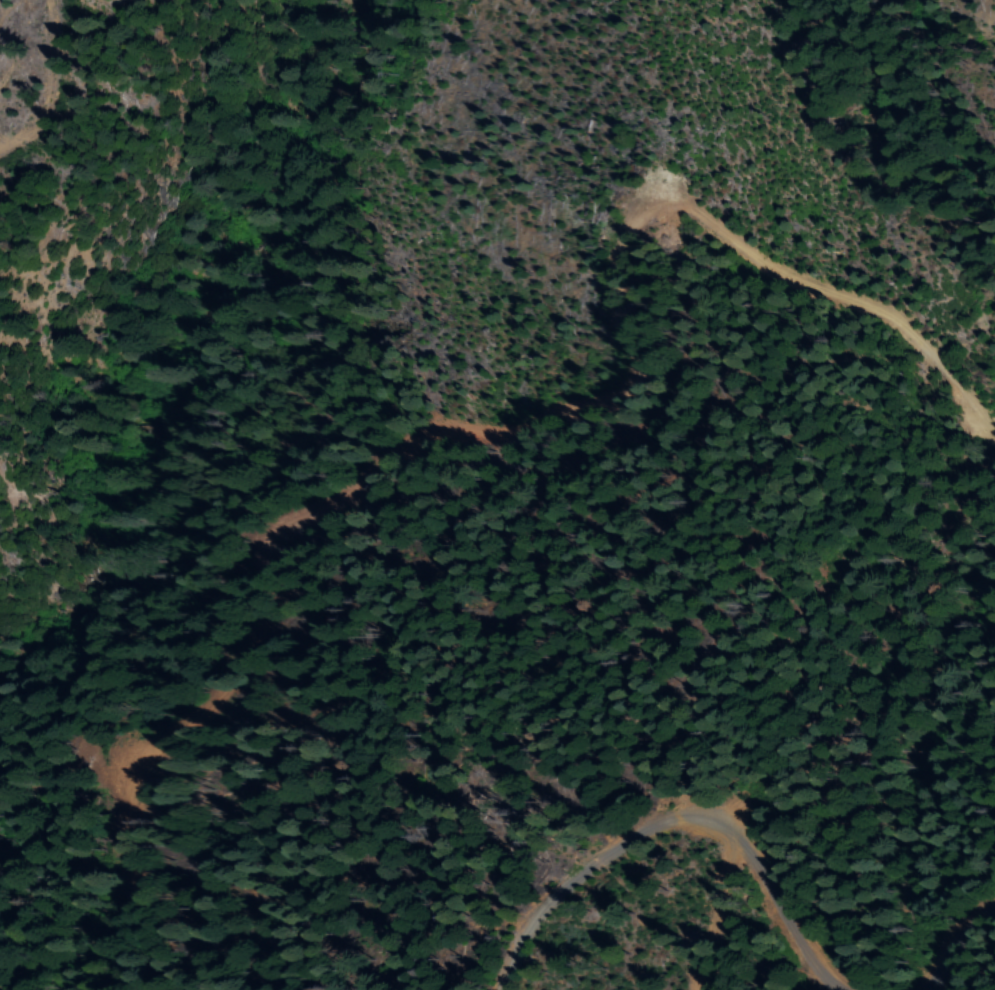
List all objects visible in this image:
road: (681, 829)
road: (706, 907)
road: (943, 936)

